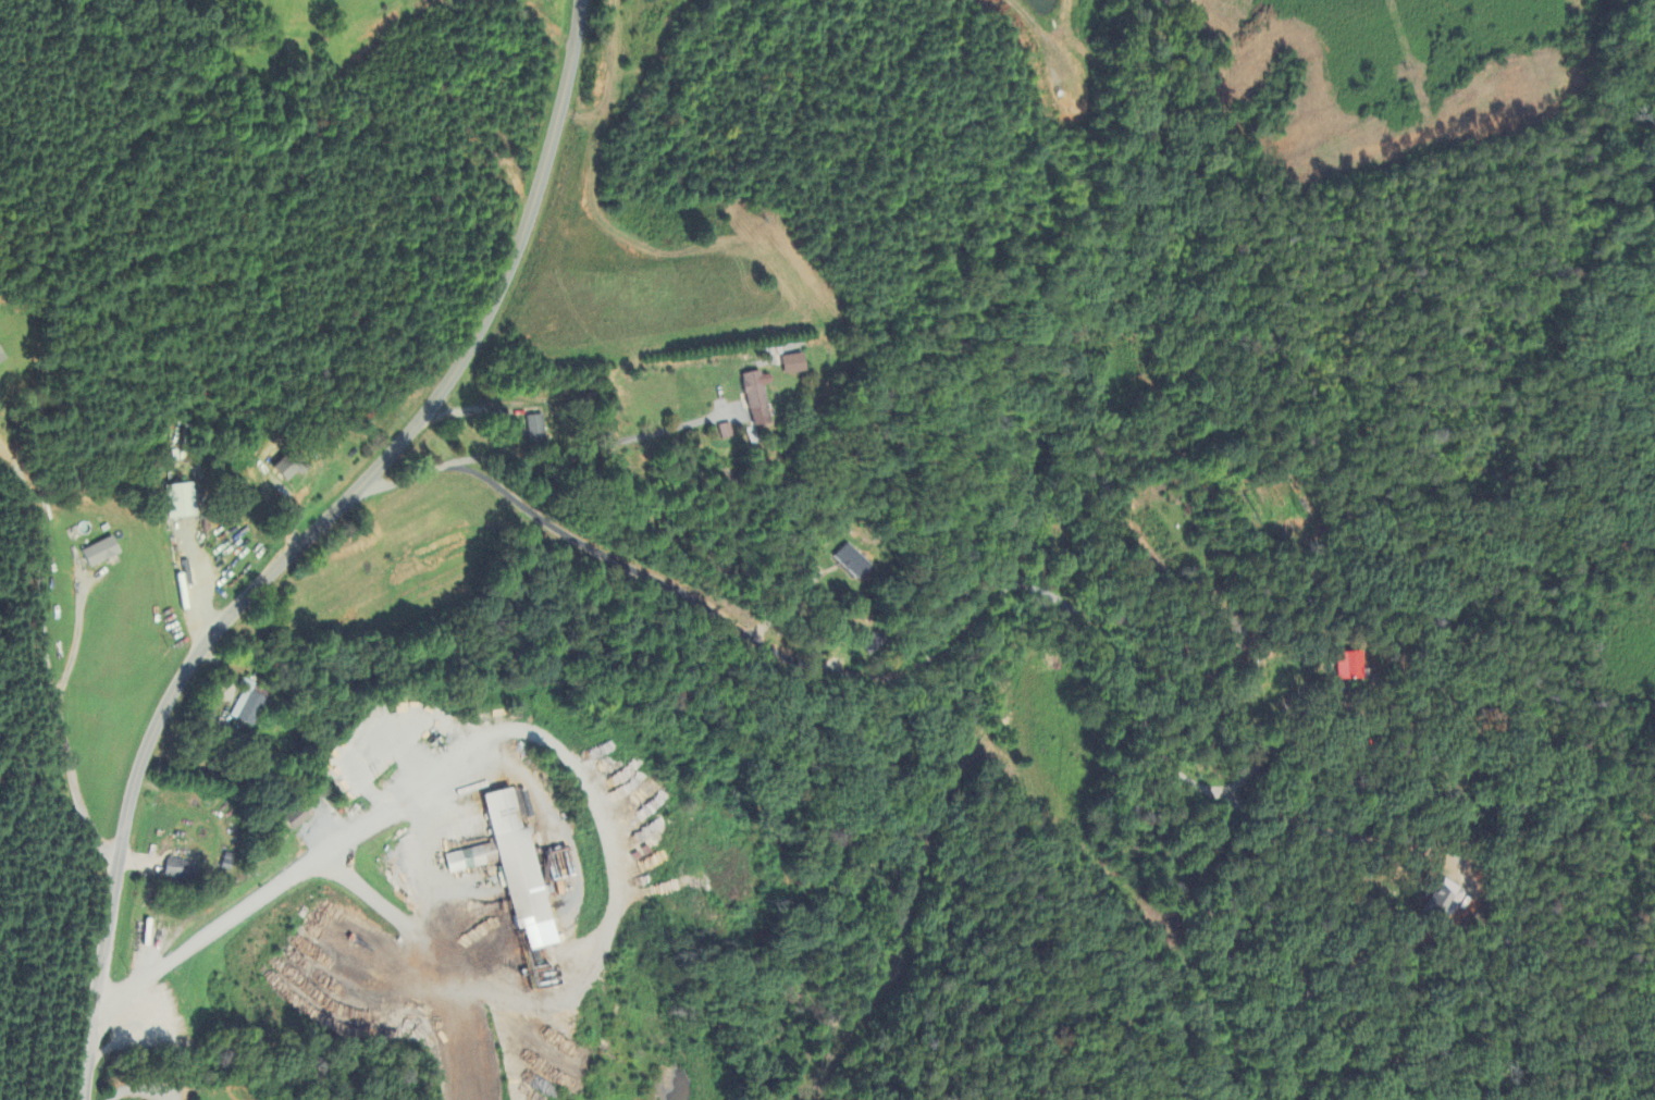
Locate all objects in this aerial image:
building: (0, 360)
building: (787, 363)
building: (750, 397)
building: (533, 429)
building: (719, 432)
road: (586, 446)
building: (287, 468)
building: (178, 502)
road: (305, 540)
building: (99, 554)
building: (850, 563)
road: (928, 648)
road: (46, 658)
building: (1350, 667)
building: (249, 704)
road: (1272, 744)
road: (568, 758)
building: (362, 767)
building: (296, 818)
building: (175, 869)
building: (508, 869)

